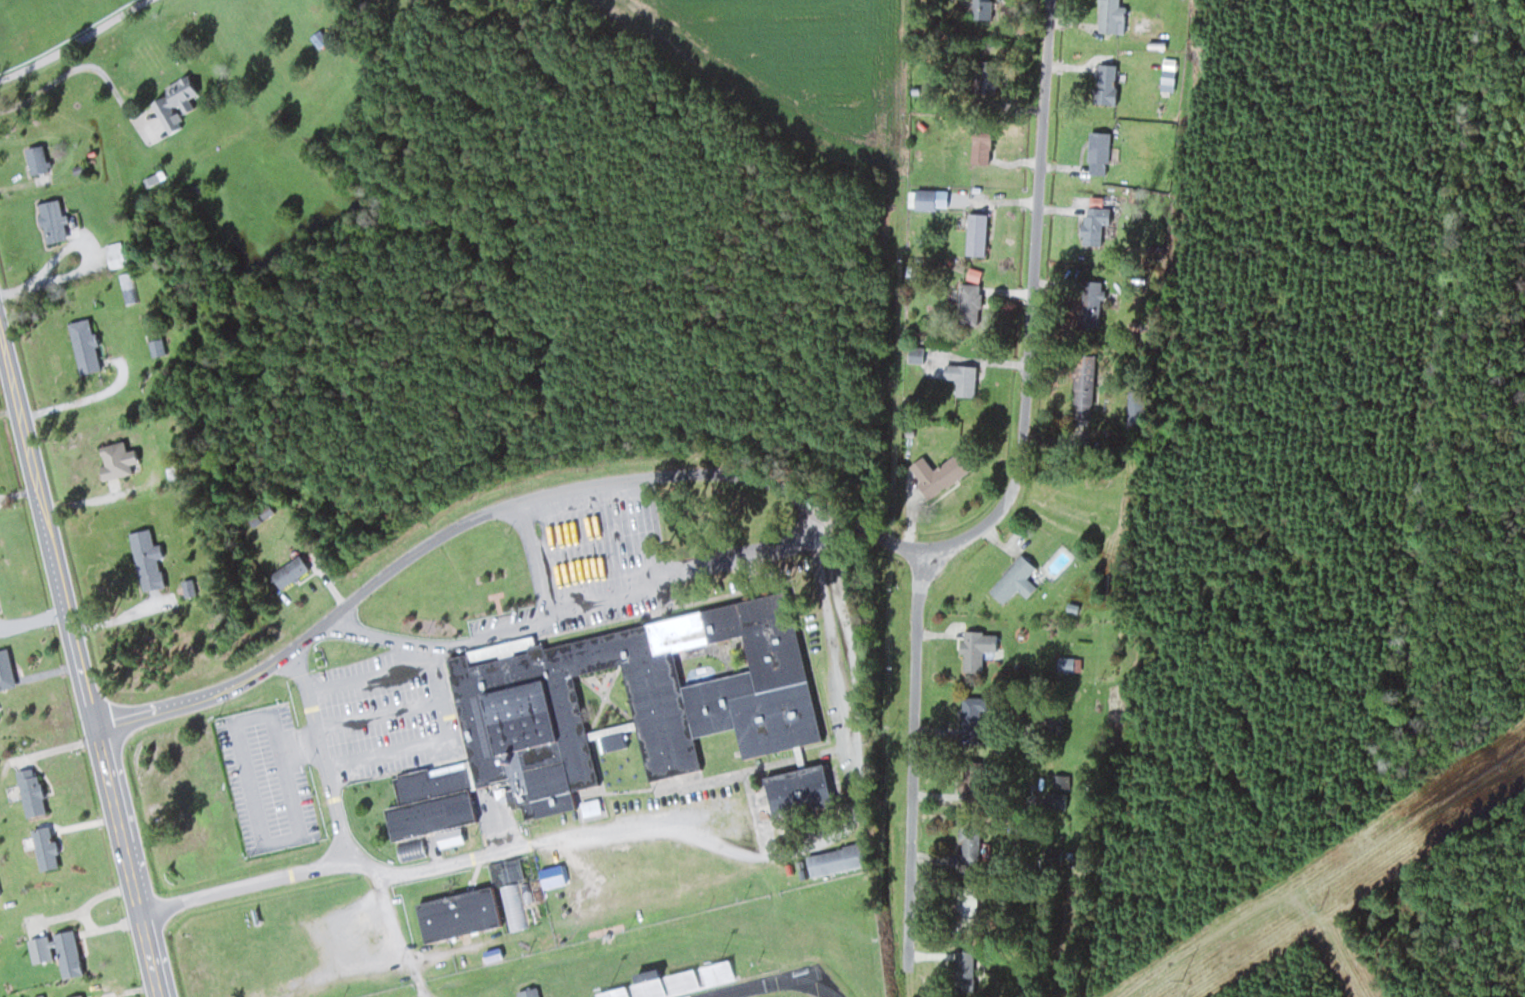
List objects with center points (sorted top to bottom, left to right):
building: (986, 9)
building: (1107, 16)
road: (74, 41)
building: (984, 80)
building: (1104, 85)
building: (176, 94)
building: (1097, 152)
building: (36, 161)
building: (924, 198)
building: (51, 219)
building: (1092, 223)
building: (976, 233)
road: (1032, 301)
building: (968, 303)
building: (1088, 305)
building: (135, 322)
building: (83, 344)
building: (156, 346)
building: (1083, 375)
building: (961, 378)
building: (1135, 412)
building: (117, 446)
building: (938, 472)
road: (487, 509)
parking lot: (593, 545)
road: (531, 561)
building: (146, 563)
building: (285, 574)
building: (1014, 580)
parking lot: (627, 605)
road: (594, 607)
parking lot: (504, 621)
building: (975, 649)
road: (81, 660)
building: (1068, 663)
building: (5, 670)
road: (371, 679)
building: (727, 704)
parking lot: (383, 713)
road: (379, 714)
building: (1051, 721)
road: (435, 742)
road: (322, 754)
road: (915, 754)
parking lot: (270, 774)
building: (805, 789)
building: (29, 791)
road: (250, 791)
building: (1056, 799)
road: (646, 825)
building: (968, 845)
building: (43, 847)
building: (413, 848)
building: (1053, 855)
building: (840, 859)
building: (555, 875)
building: (514, 905)
building: (964, 905)
building: (467, 913)
road: (398, 934)
building: (964, 975)
building: (672, 981)
track: (779, 984)
track: (776, 991)
building: (531, 992)
park: (781, 994)

